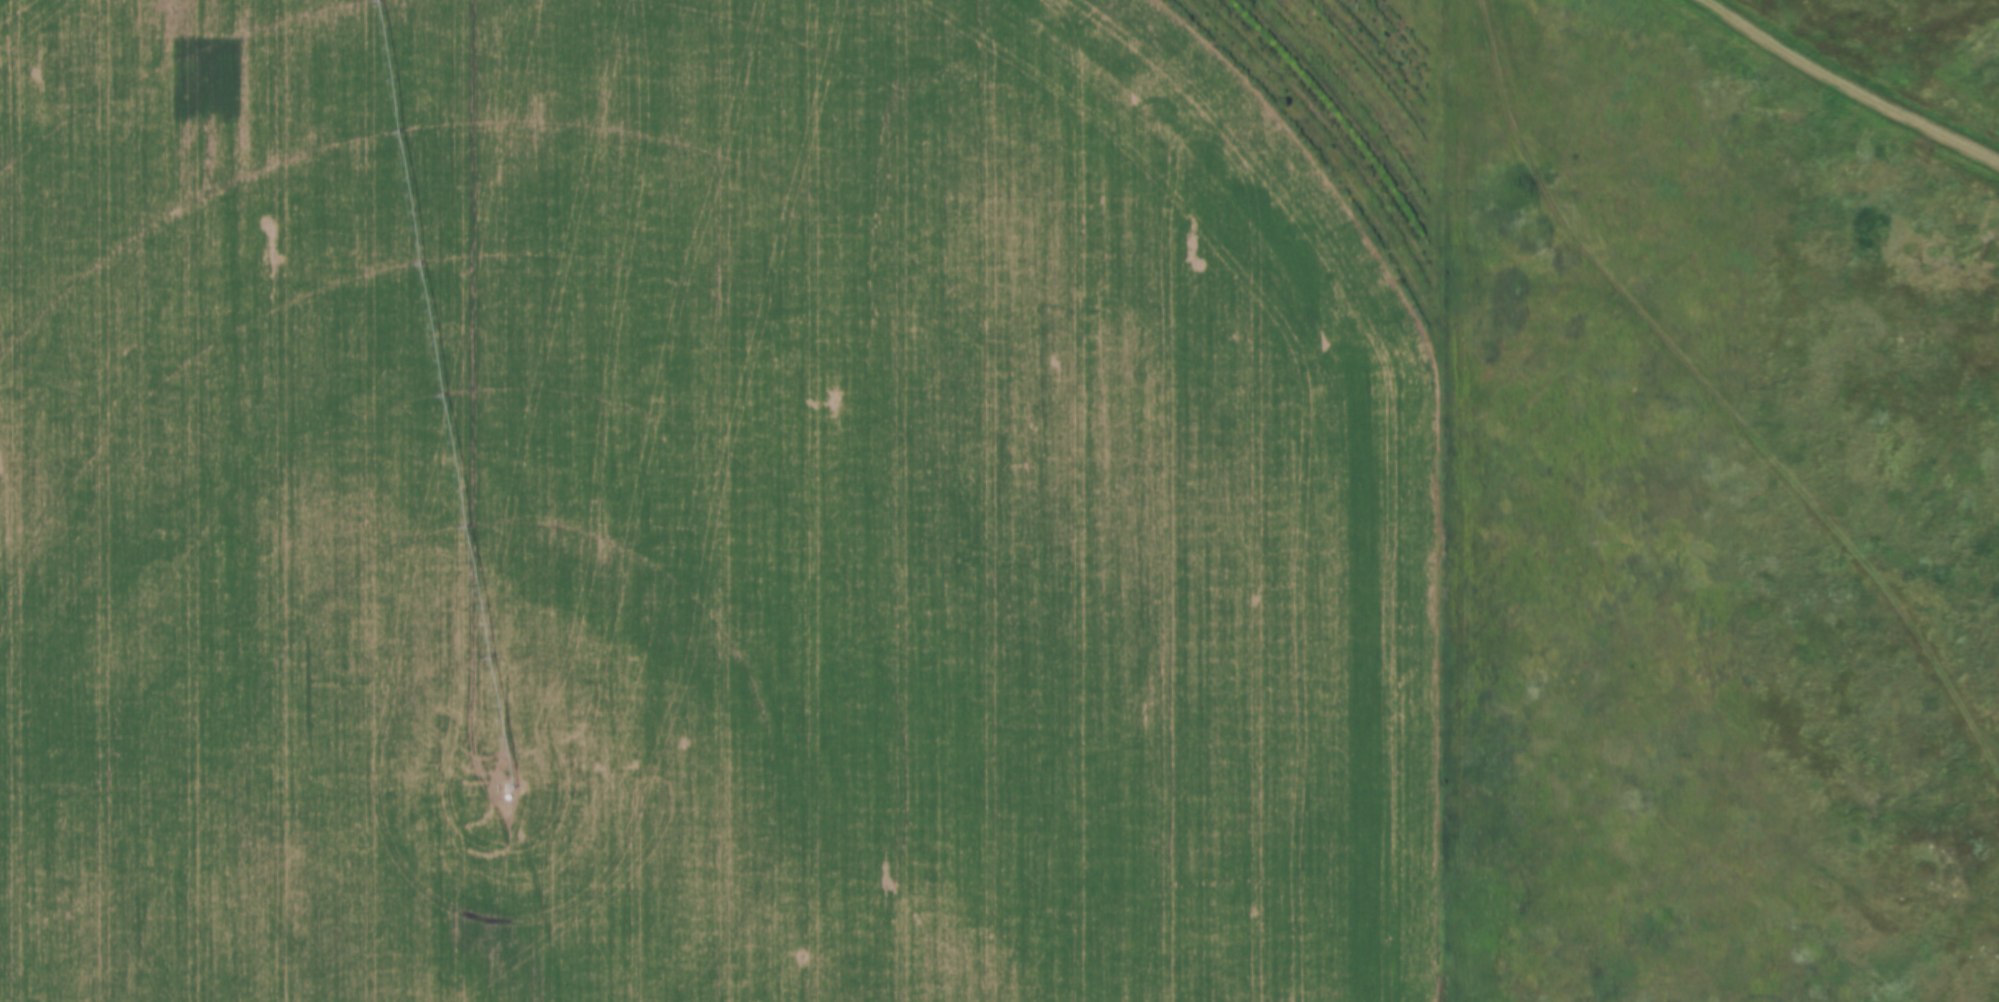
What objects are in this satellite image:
crop: (698, 512)

